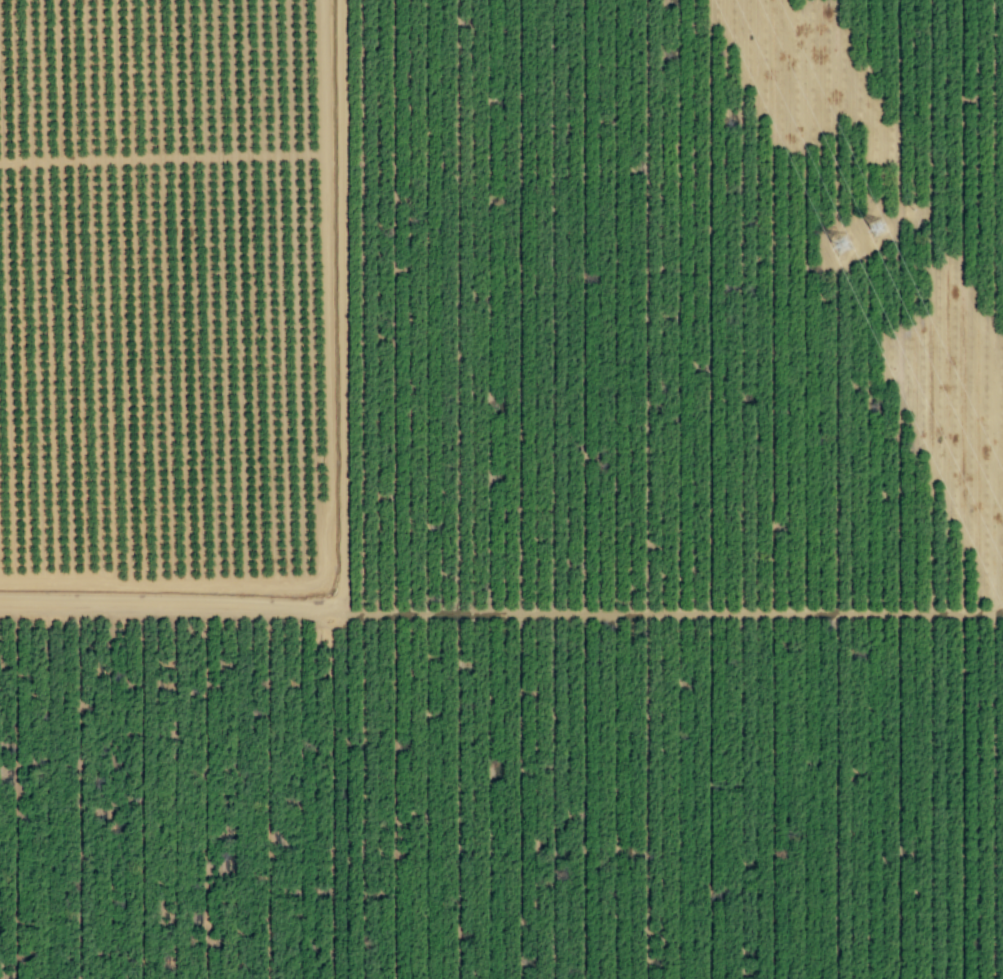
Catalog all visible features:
road: (324, 76)
road: (162, 157)
power tower: (876, 229)
power tower: (839, 246)
road: (342, 469)
road: (326, 527)
road: (666, 613)

